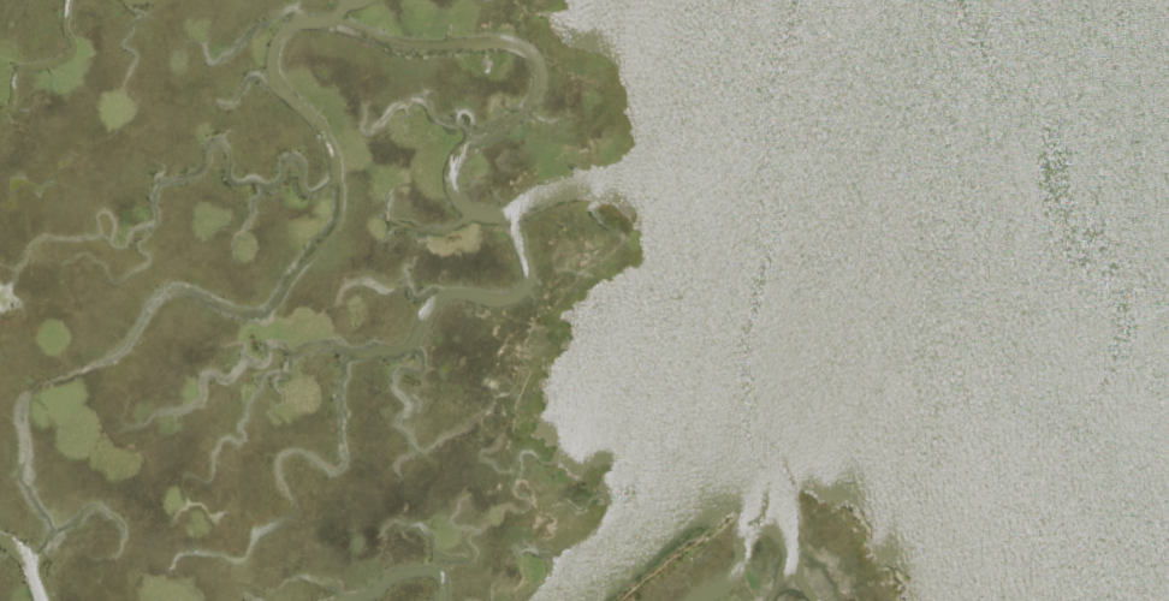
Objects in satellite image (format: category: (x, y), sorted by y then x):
road: (684, 557)

